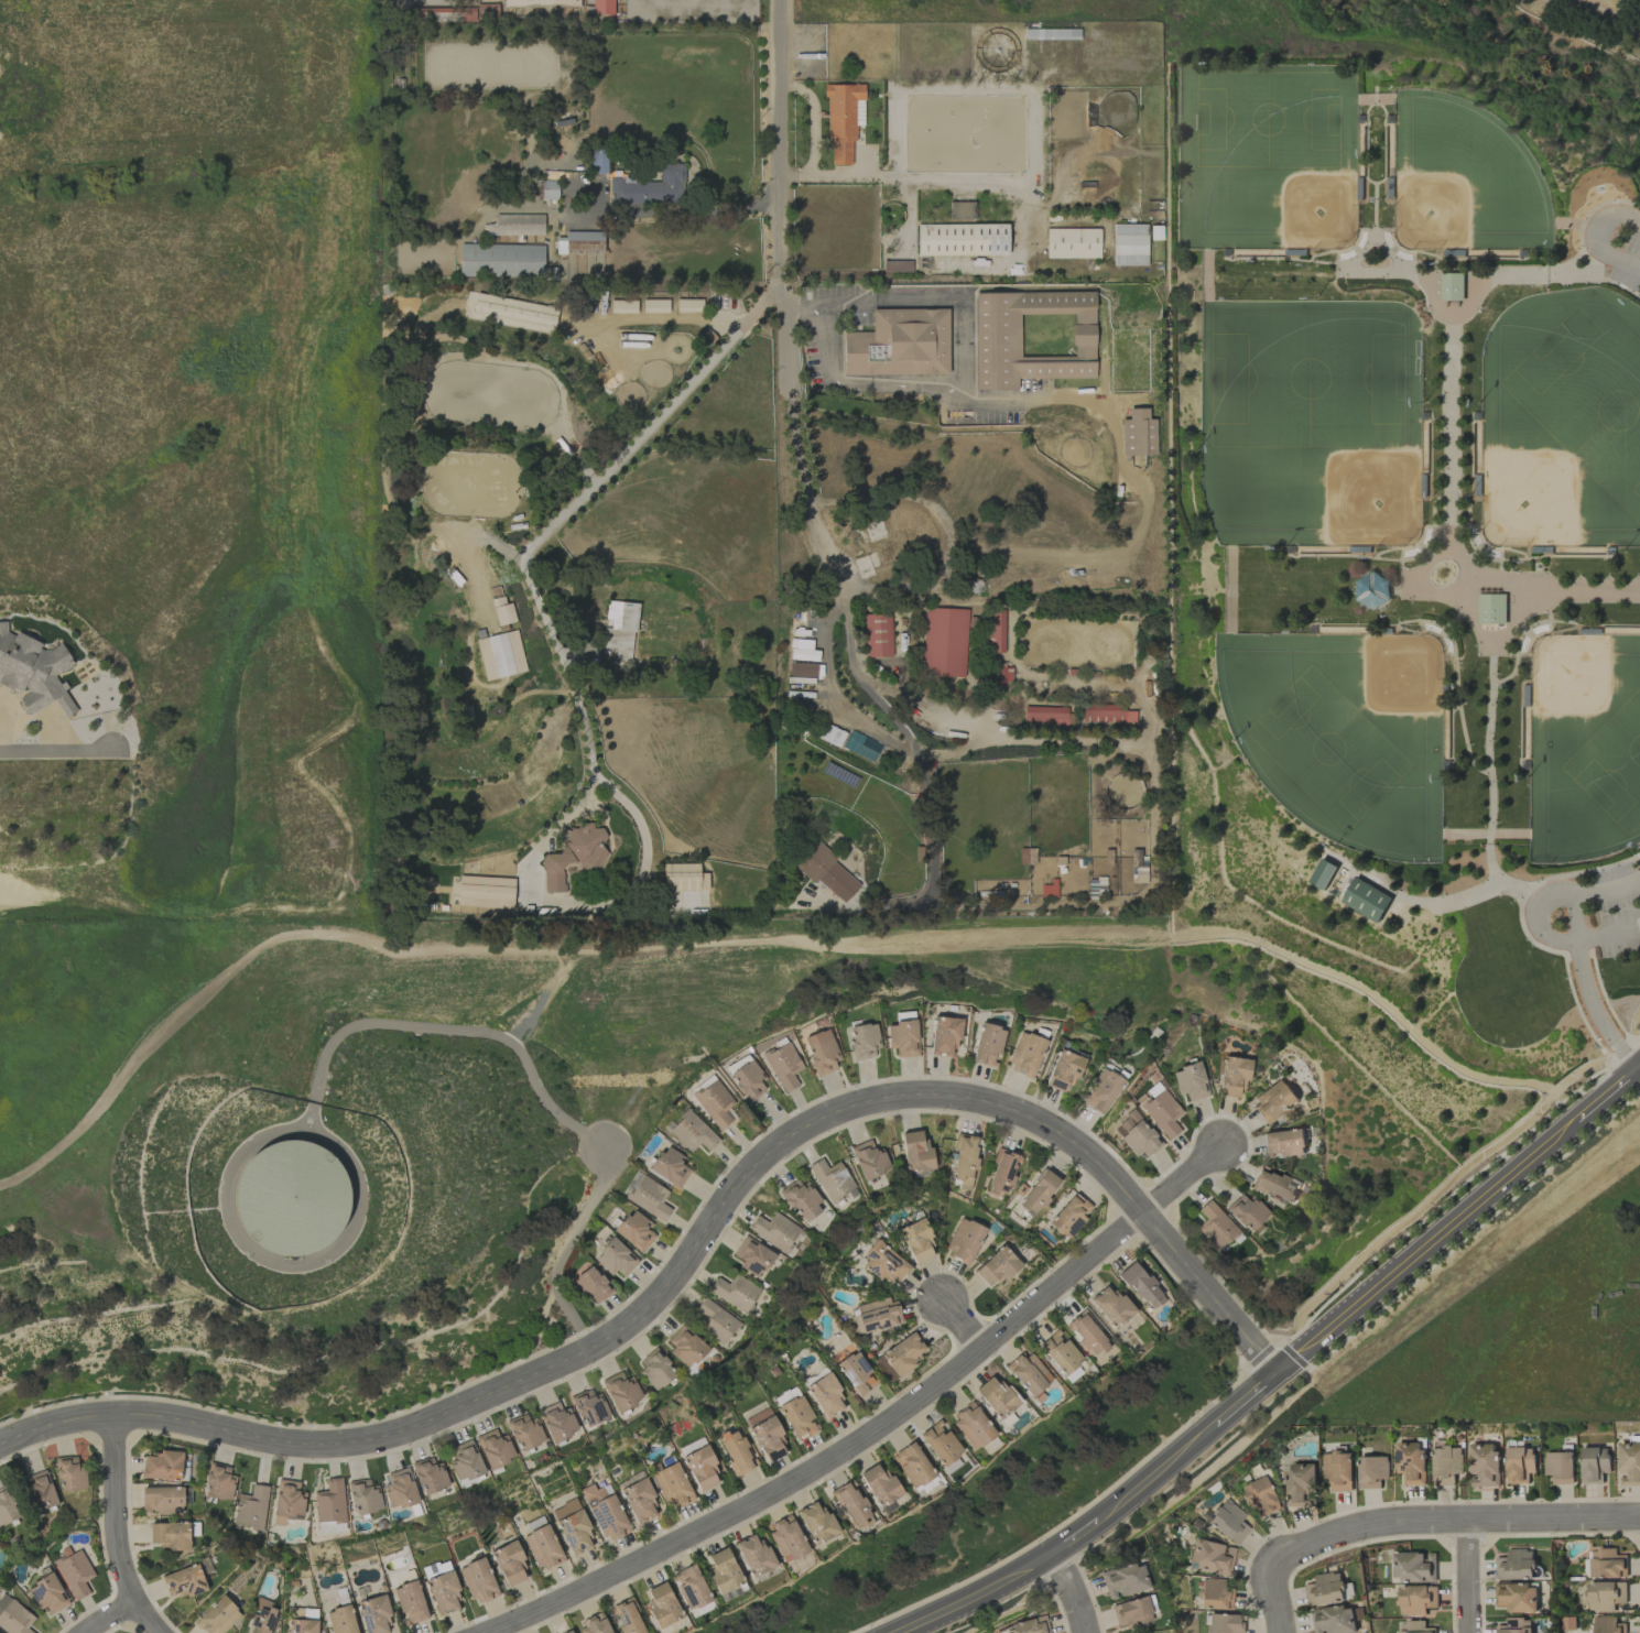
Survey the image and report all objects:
park: (1628, 1)
building: (602, 7)
building: (486, 10)
road: (1604, 13)
building: (465, 14)
road: (778, 100)
park: (1267, 119)
building: (843, 121)
road: (1367, 134)
road: (1386, 137)
building: (597, 161)
park: (1462, 179)
building: (549, 189)
park: (1294, 190)
building: (649, 192)
road: (709, 211)
building: (962, 213)
road: (1585, 219)
road: (1564, 222)
building: (517, 225)
road: (1376, 225)
road: (1588, 226)
road: (1593, 235)
building: (962, 240)
road: (780, 241)
parking lot: (1616, 241)
building: (579, 242)
building: (1073, 243)
road: (1357, 255)
road: (1286, 257)
road: (1460, 259)
building: (501, 260)
road: (1598, 276)
building: (1454, 286)
road: (934, 301)
road: (802, 304)
building: (688, 305)
building: (622, 306)
building: (654, 306)
road: (1464, 311)
building: (1032, 337)
road: (826, 342)
building: (899, 344)
park: (1310, 378)
road: (894, 385)
park: (1588, 396)
road: (1451, 427)
building: (1138, 434)
park: (1318, 437)
road: (795, 443)
park: (1560, 443)
road: (524, 555)
park: (1408, 555)
road: (1460, 557)
road: (1390, 559)
road: (1508, 560)
road: (1492, 575)
road: (1408, 589)
building: (1373, 590)
building: (1492, 609)
building: (501, 610)
road: (1550, 620)
building: (619, 629)
building: (997, 630)
building: (880, 634)
road: (1501, 635)
road: (1452, 638)
building: (946, 641)
park: (1077, 642)
building: (801, 651)
building: (501, 655)
building: (808, 669)
road: (984, 669)
building: (33, 672)
road: (897, 673)
building: (1003, 676)
building: (1046, 683)
road: (1133, 696)
road: (928, 708)
building: (1108, 712)
building: (1047, 715)
parking lot: (954, 719)
road: (987, 719)
park: (1342, 732)
building: (833, 733)
road: (1118, 743)
park: (1584, 745)
road: (59, 748)
park: (1326, 748)
road: (1155, 749)
building: (886, 755)
park: (1611, 763)
road: (1489, 764)
rooftop solar panel: (835, 774)
rooftop solar panel: (849, 779)
building: (1125, 791)
road: (933, 801)
road: (634, 819)
road: (1485, 832)
building: (575, 856)
building: (825, 872)
building: (485, 892)
building: (1367, 900)
parking lot: (823, 902)
parking lot: (1588, 912)
road: (1536, 915)
road: (1521, 918)
road: (743, 940)
road: (1586, 987)
building: (945, 1035)
building: (903, 1038)
building: (864, 1041)
building: (987, 1045)
building: (821, 1052)
building: (1025, 1055)
building: (782, 1064)
road: (1639, 1067)
building: (1063, 1070)
building: (1232, 1077)
building: (748, 1080)
building: (1190, 1081)
building: (1101, 1091)
road: (541, 1092)
building: (1273, 1101)
building: (714, 1102)
road: (1594, 1102)
building: (1161, 1111)
building: (692, 1132)
building: (1136, 1135)
building: (1283, 1142)
building: (916, 1152)
building: (964, 1156)
building: (869, 1160)
building: (670, 1166)
building: (1002, 1173)
building: (832, 1179)
building: (1274, 1186)
building: (1038, 1193)
building: (648, 1197)
building: (291, 1199)
storage tank: (291, 1199)
building: (801, 1200)
building: (1246, 1211)
building: (1069, 1216)
rooftop solar panel: (1078, 1226)
building: (1215, 1227)
building: (634, 1230)
building: (774, 1231)
building: (917, 1240)
building: (964, 1240)
road: (693, 1252)
road: (1413, 1254)
rooftop solar panel: (872, 1255)
building: (752, 1256)
building: (615, 1259)
rooftop solar panel: (893, 1260)
building: (884, 1264)
rooftop solar panel: (872, 1266)
rooftop solar panel: (889, 1267)
building: (996, 1267)
building: (591, 1286)
building: (1141, 1286)
building: (735, 1292)
building: (1110, 1306)
building: (878, 1315)
building: (713, 1320)
road: (960, 1327)
building: (1086, 1333)
building: (685, 1347)
building: (1060, 1352)
building: (900, 1357)
rooftop solar panel: (864, 1362)
building: (654, 1370)
rooftop solar panel: (852, 1371)
building: (856, 1373)
building: (1029, 1374)
rooftop solar panel: (857, 1382)
building: (621, 1391)
building: (825, 1396)
building: (996, 1396)
road: (1246, 1398)
building: (589, 1407)
building: (797, 1417)
building: (557, 1422)
road: (884, 1425)
building: (973, 1427)
building: (524, 1433)
building: (767, 1435)
building: (941, 1444)
building: (495, 1448)
building: (736, 1451)
rooftop solar panel: (1411, 1458)
building: (1410, 1461)
building: (465, 1462)
building: (1518, 1463)
building: (1594, 1463)
building: (1629, 1463)
building: (912, 1465)
building: (1445, 1465)
building: (1482, 1465)
building: (161, 1466)
building: (1558, 1467)
building: (702, 1468)
building: (1337, 1469)
building: (1372, 1471)
road: (1155, 1473)
building: (69, 1474)
building: (428, 1474)
building: (219, 1482)
building: (1300, 1483)
building: (879, 1484)
building: (672, 1485)
building: (399, 1489)
building: (40, 1491)
building: (1258, 1496)
building: (363, 1498)
building: (162, 1500)
building: (640, 1501)
building: (287, 1502)
building: (329, 1502)
building: (852, 1505)
building: (7, 1507)
building: (251, 1507)
rooftop solar panel: (604, 1507)
building: (606, 1512)
rooftop solar panel: (600, 1517)
road: (1448, 1521)
building: (816, 1522)
building: (1228, 1522)
rooftop solar panel: (567, 1526)
building: (573, 1527)
road: (117, 1529)
building: (171, 1535)
road: (1075, 1537)
building: (788, 1539)
rooftop solar panel: (571, 1541)
rooftop solar panel: (582, 1544)
building: (542, 1547)
building: (754, 1556)
building: (1210, 1558)
building: (509, 1563)
building: (1607, 1563)
building: (1516, 1565)
building: (1413, 1566)
building: (724, 1570)
building: (74, 1572)
road: (1465, 1577)
building: (1123, 1580)
building: (478, 1581)
building: (183, 1582)
rooftop solar panel: (202, 1582)
rooftop solar panel: (171, 1583)
rooftop solar panel: (191, 1586)
rooftop solar panel: (180, 1587)
building: (689, 1587)
building: (1327, 1588)
rooftop solar panel: (41, 1590)
rooftop solar panel: (198, 1590)
road: (1072, 1591)
building: (444, 1592)
building: (47, 1594)
building: (1605, 1594)
road: (977, 1596)
building: (1215, 1596)
building: (1516, 1597)
building: (1416, 1599)
road: (1274, 1601)
building: (410, 1602)
rooftop solar panel: (368, 1605)
building: (662, 1605)
rooftop solar panel: (622, 1610)
building: (1130, 1612)
building: (374, 1615)
building: (13, 1616)
building: (217, 1616)
building: (261, 1616)
building: (627, 1616)
road: (109, 1618)
rooftop solar panel: (626, 1618)
building: (341, 1620)
building: (1334, 1620)
building: (1225, 1623)
rooftop solar panel: (366, 1624)
building: (594, 1624)
building: (1607, 1624)
building: (301, 1625)
building: (1030, 1625)
building: (1516, 1625)
building: (1414, 1627)
rooftop solar panel: (297, 1632)
building: (567, 1632)

